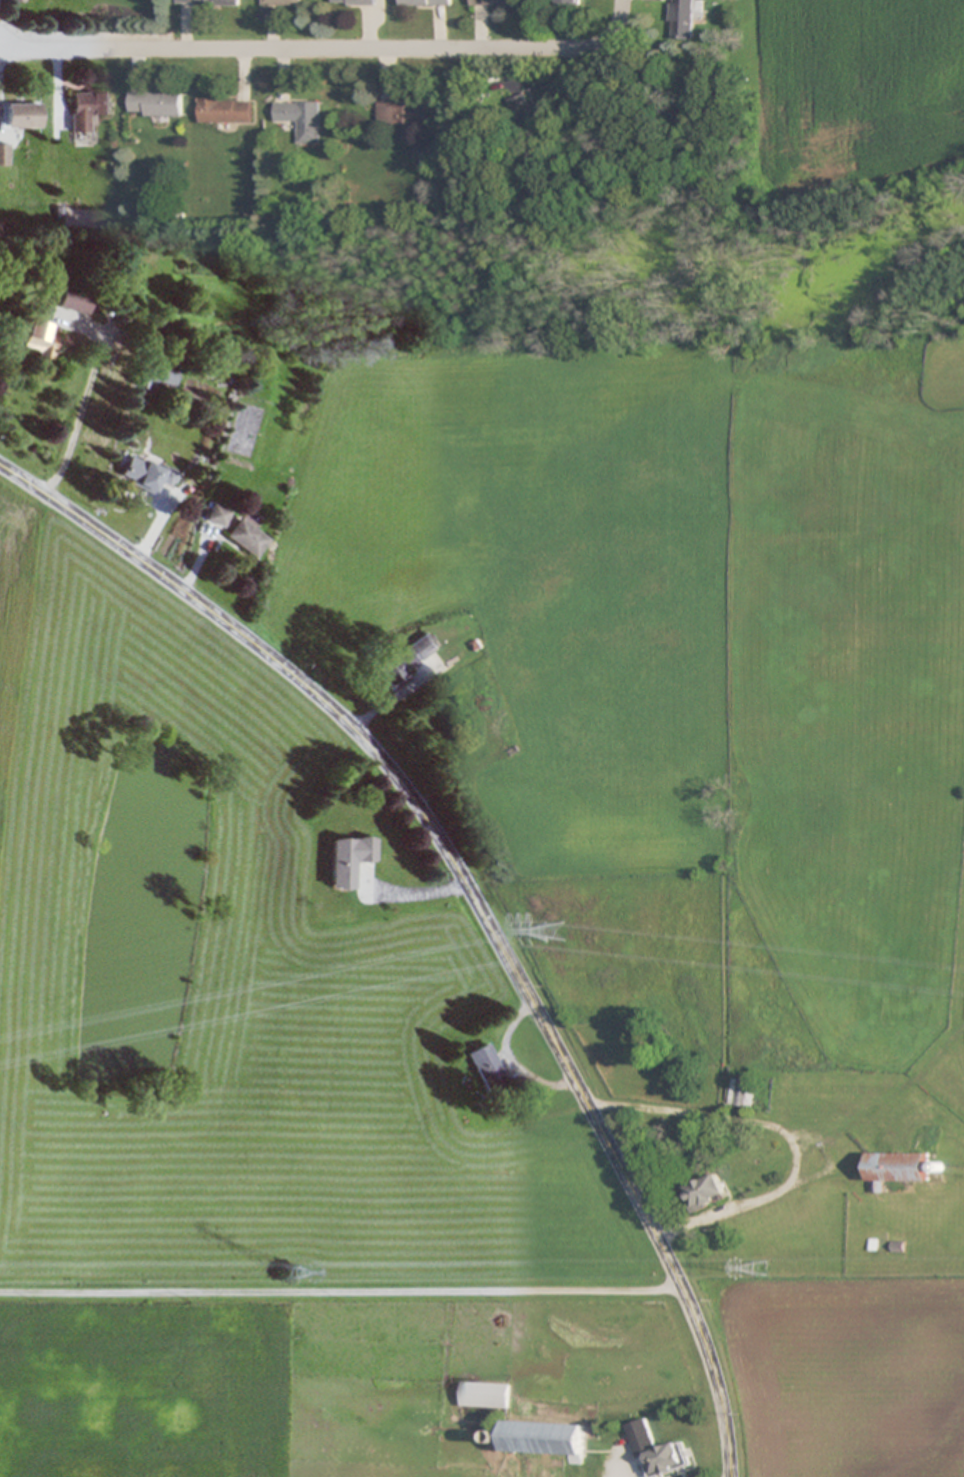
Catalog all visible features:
building: (209, 2)
building: (282, 2)
building: (354, 2)
building: (426, 2)
building: (569, 2)
building: (494, 3)
building: (685, 18)
road: (326, 48)
building: (156, 103)
building: (88, 108)
building: (225, 110)
building: (405, 112)
building: (533, 113)
building: (23, 114)
building: (301, 119)
building: (4, 154)
building: (72, 300)
building: (36, 338)
building: (155, 376)
building: (147, 473)
building: (218, 514)
building: (247, 536)
building: (404, 660)
crop: (812, 707)
building: (348, 858)
road: (472, 891)
power tower: (555, 931)
building: (488, 1066)
building: (739, 1092)
building: (809, 1106)
road: (783, 1128)
building: (898, 1167)
building: (706, 1191)
building: (895, 1246)
power tower: (760, 1267)
power tower: (287, 1272)
road: (339, 1287)

